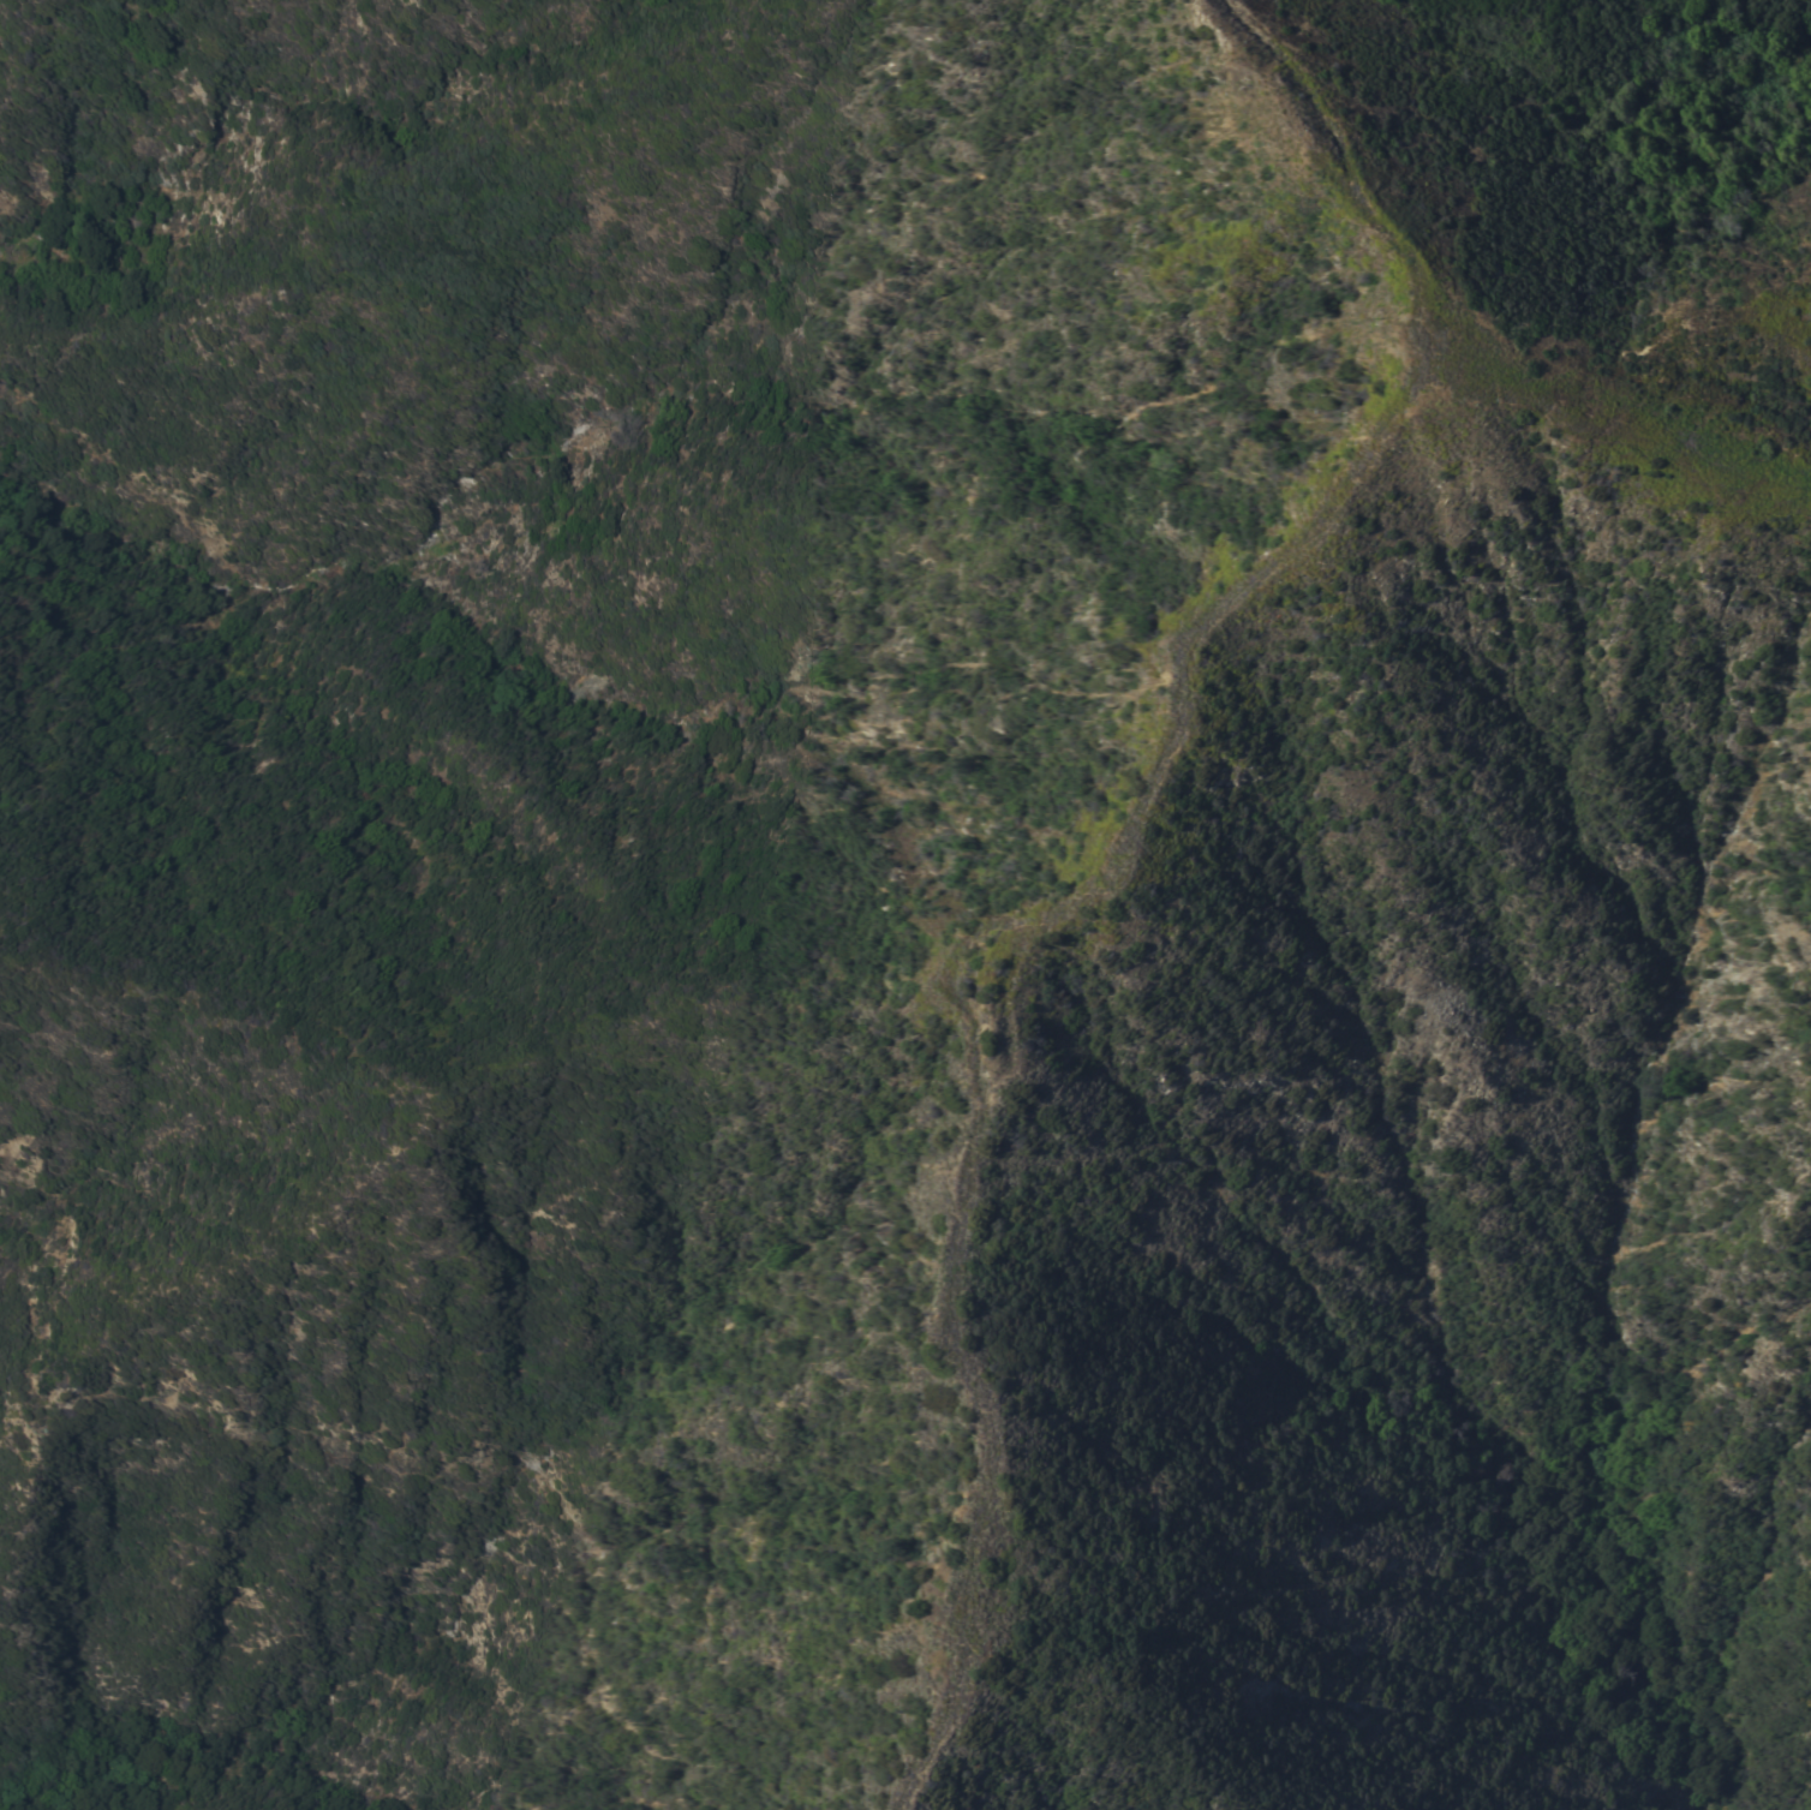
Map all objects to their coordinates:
road: (210, 536)
road: (1106, 868)
road: (351, 1489)

